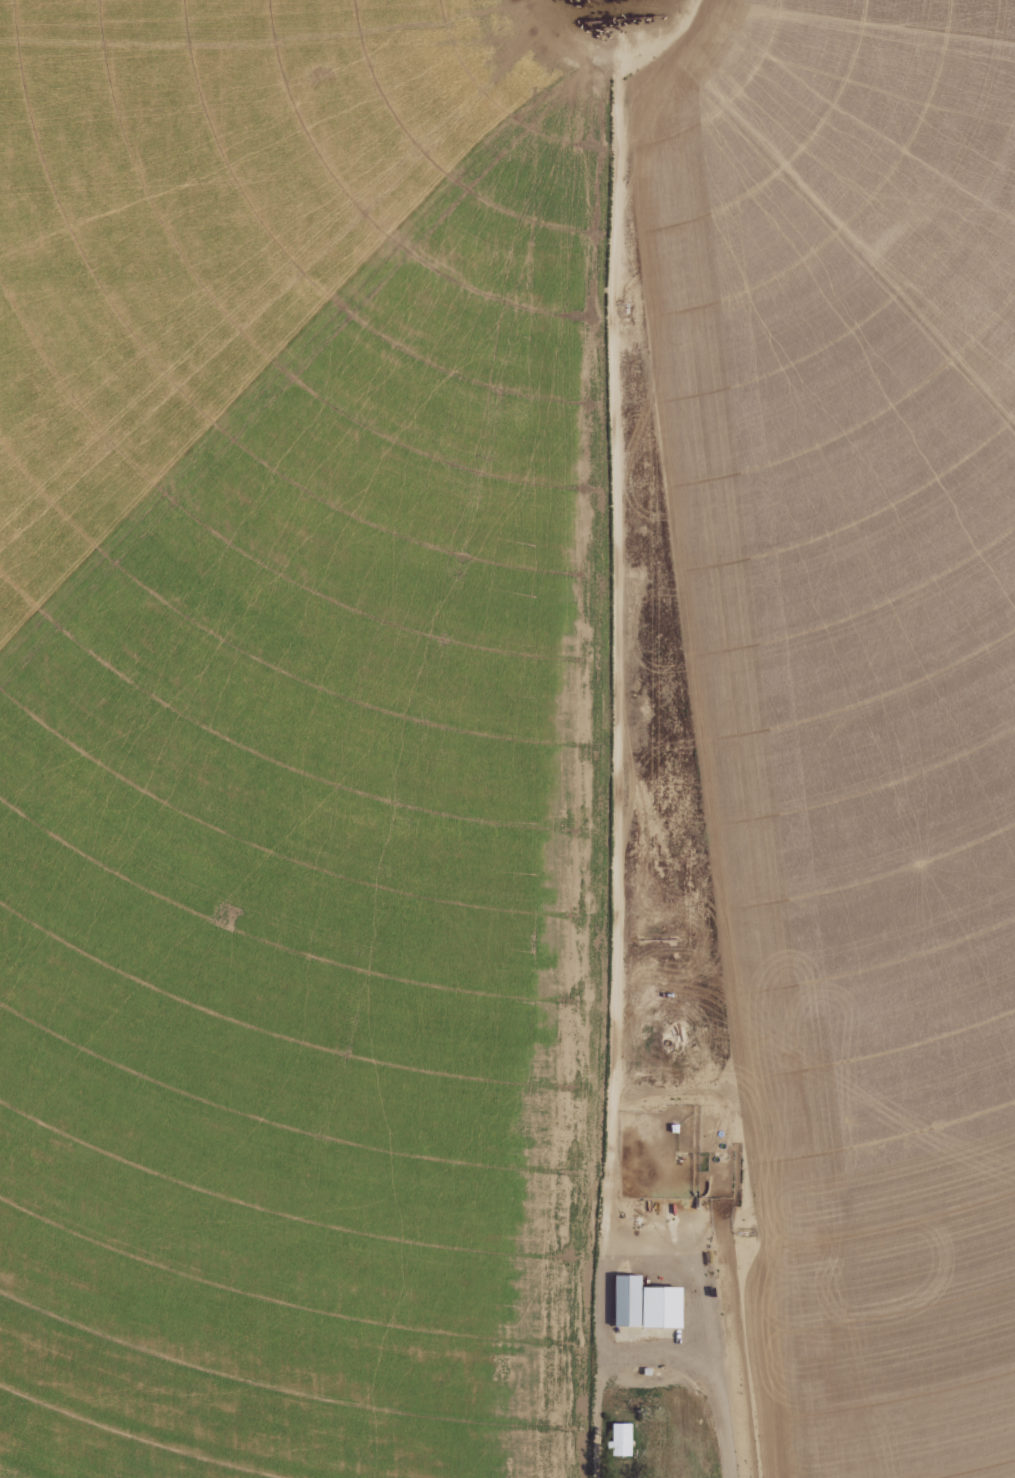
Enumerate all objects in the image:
building: (648, 1303)
building: (623, 1438)

